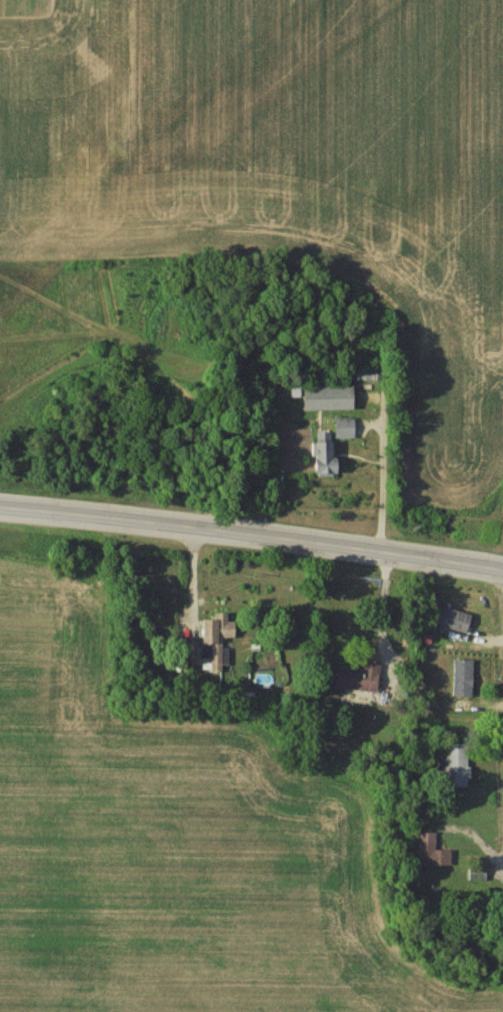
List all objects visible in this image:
building: (330, 399)
building: (346, 429)
building: (327, 455)
road: (383, 489)
road: (252, 532)
building: (452, 620)
road: (383, 622)
building: (215, 643)
building: (357, 678)
building: (464, 679)
building: (459, 767)
building: (434, 851)

